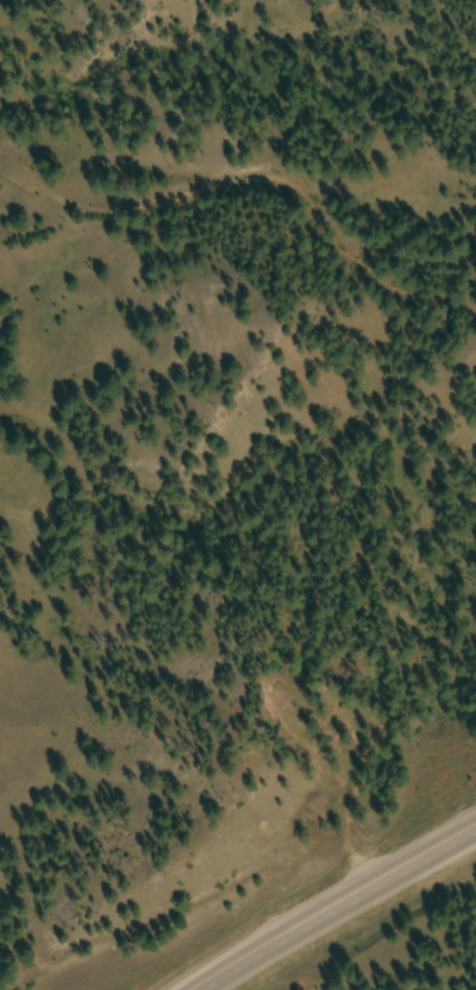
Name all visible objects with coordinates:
road: (341, 908)

